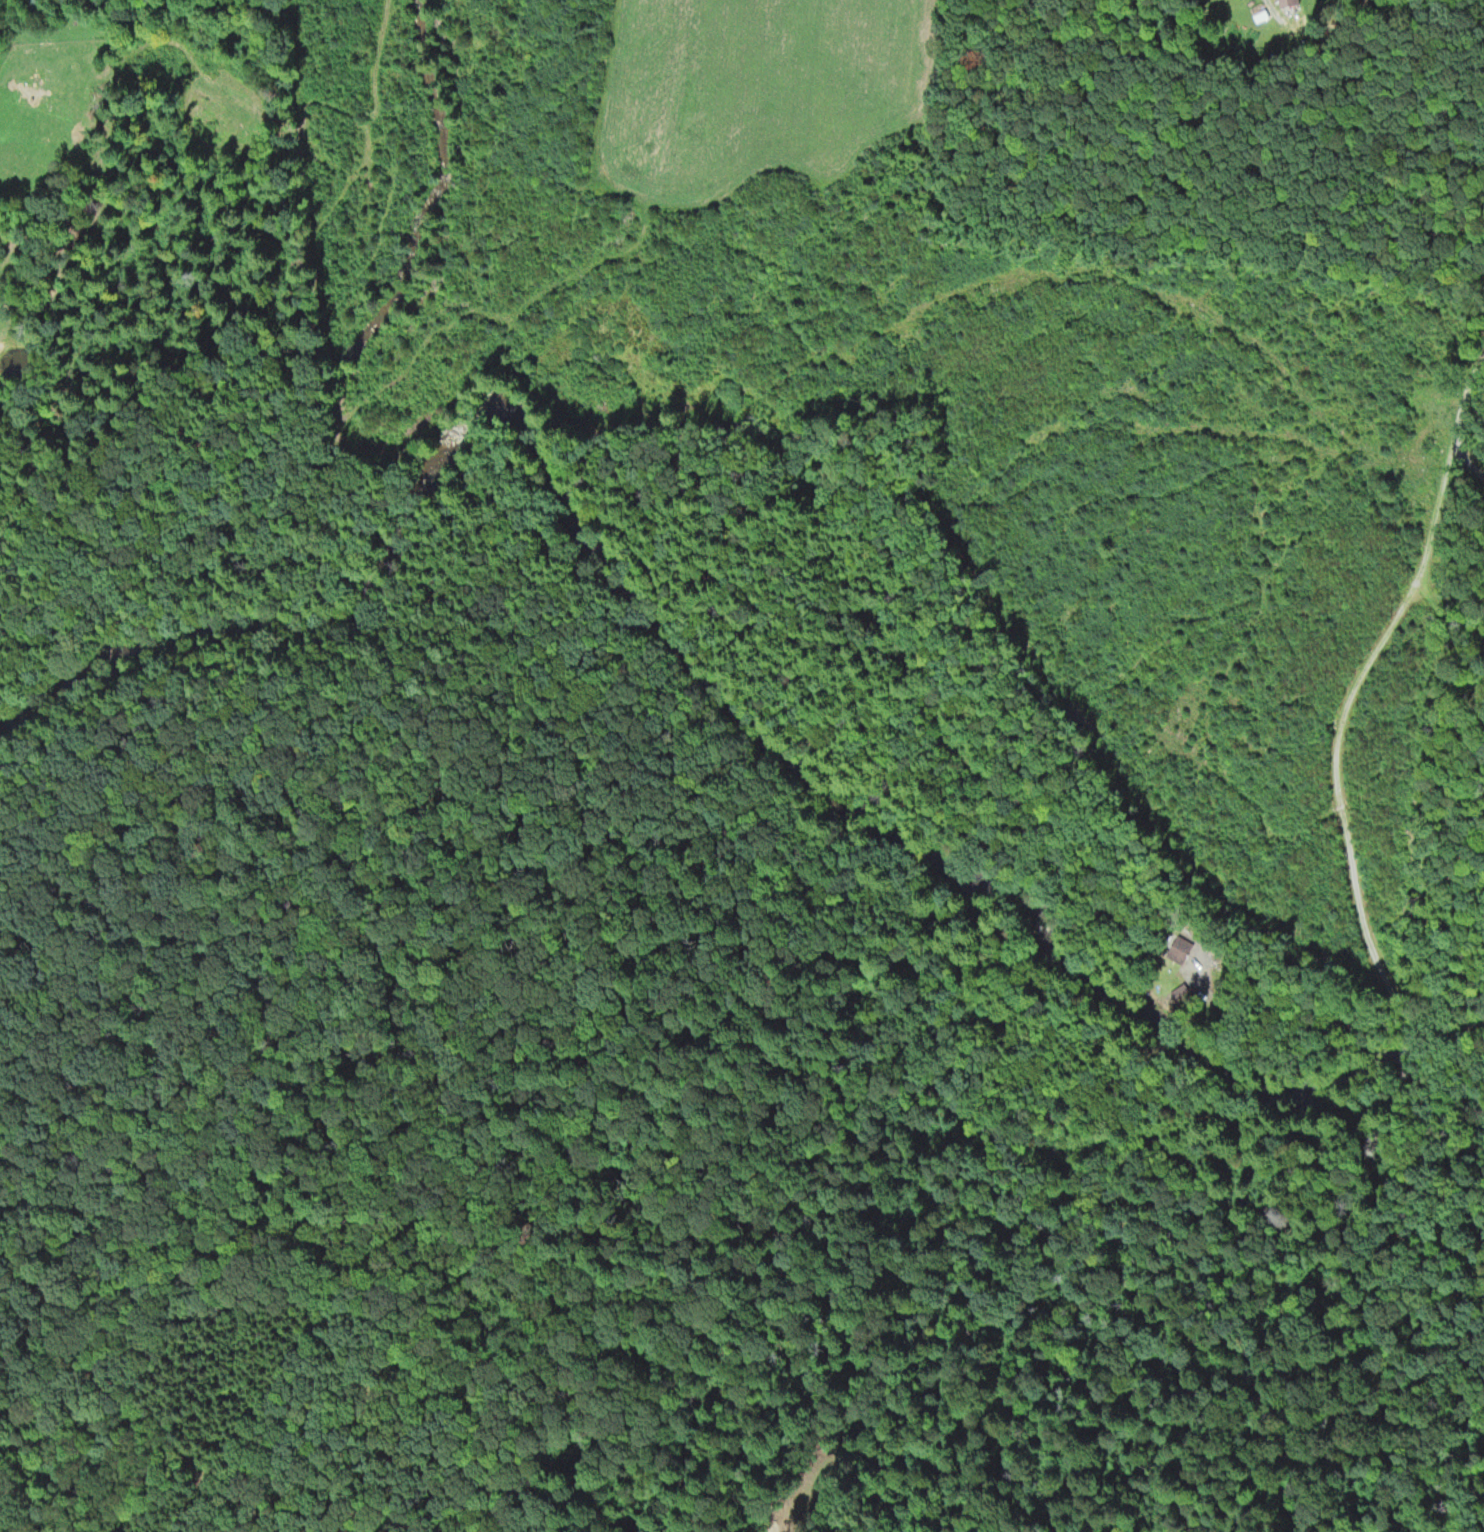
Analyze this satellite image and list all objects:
road: (78, 20)
river: (698, 646)
building: (1176, 947)

